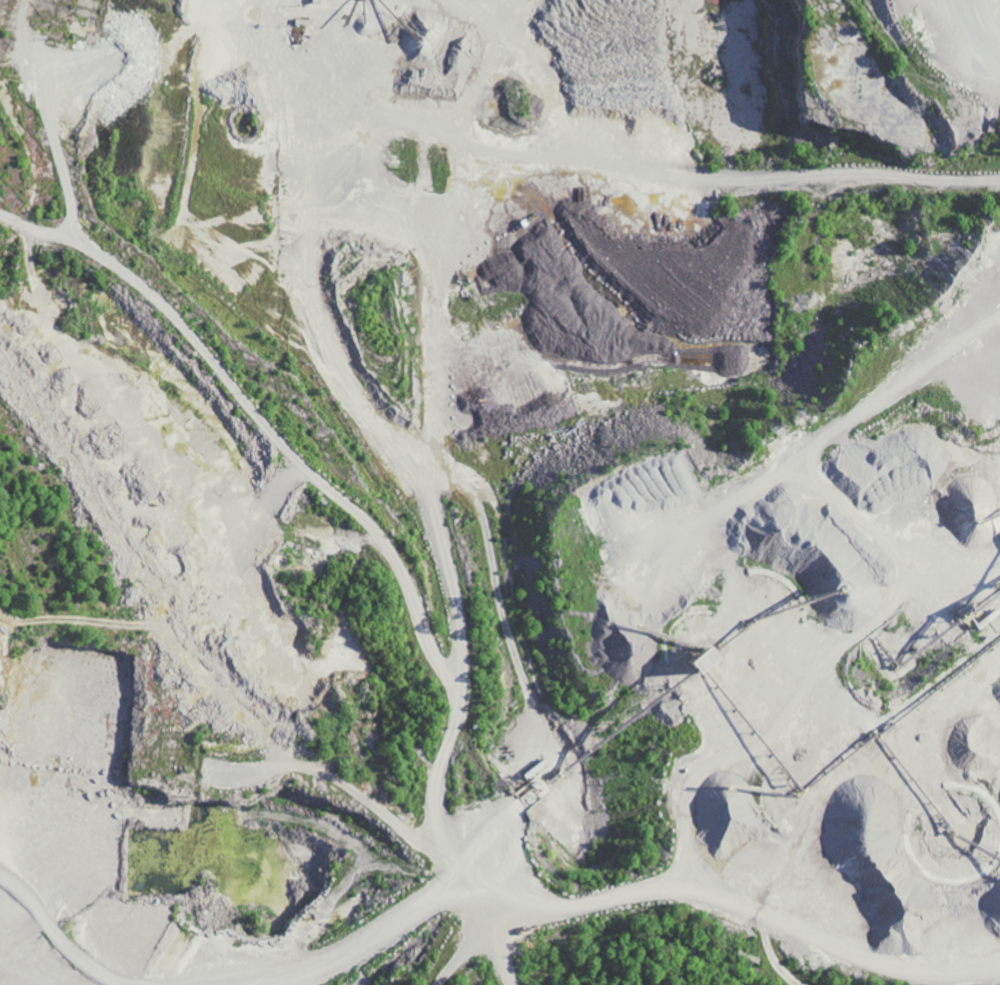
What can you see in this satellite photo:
quarry: (499, 492)

